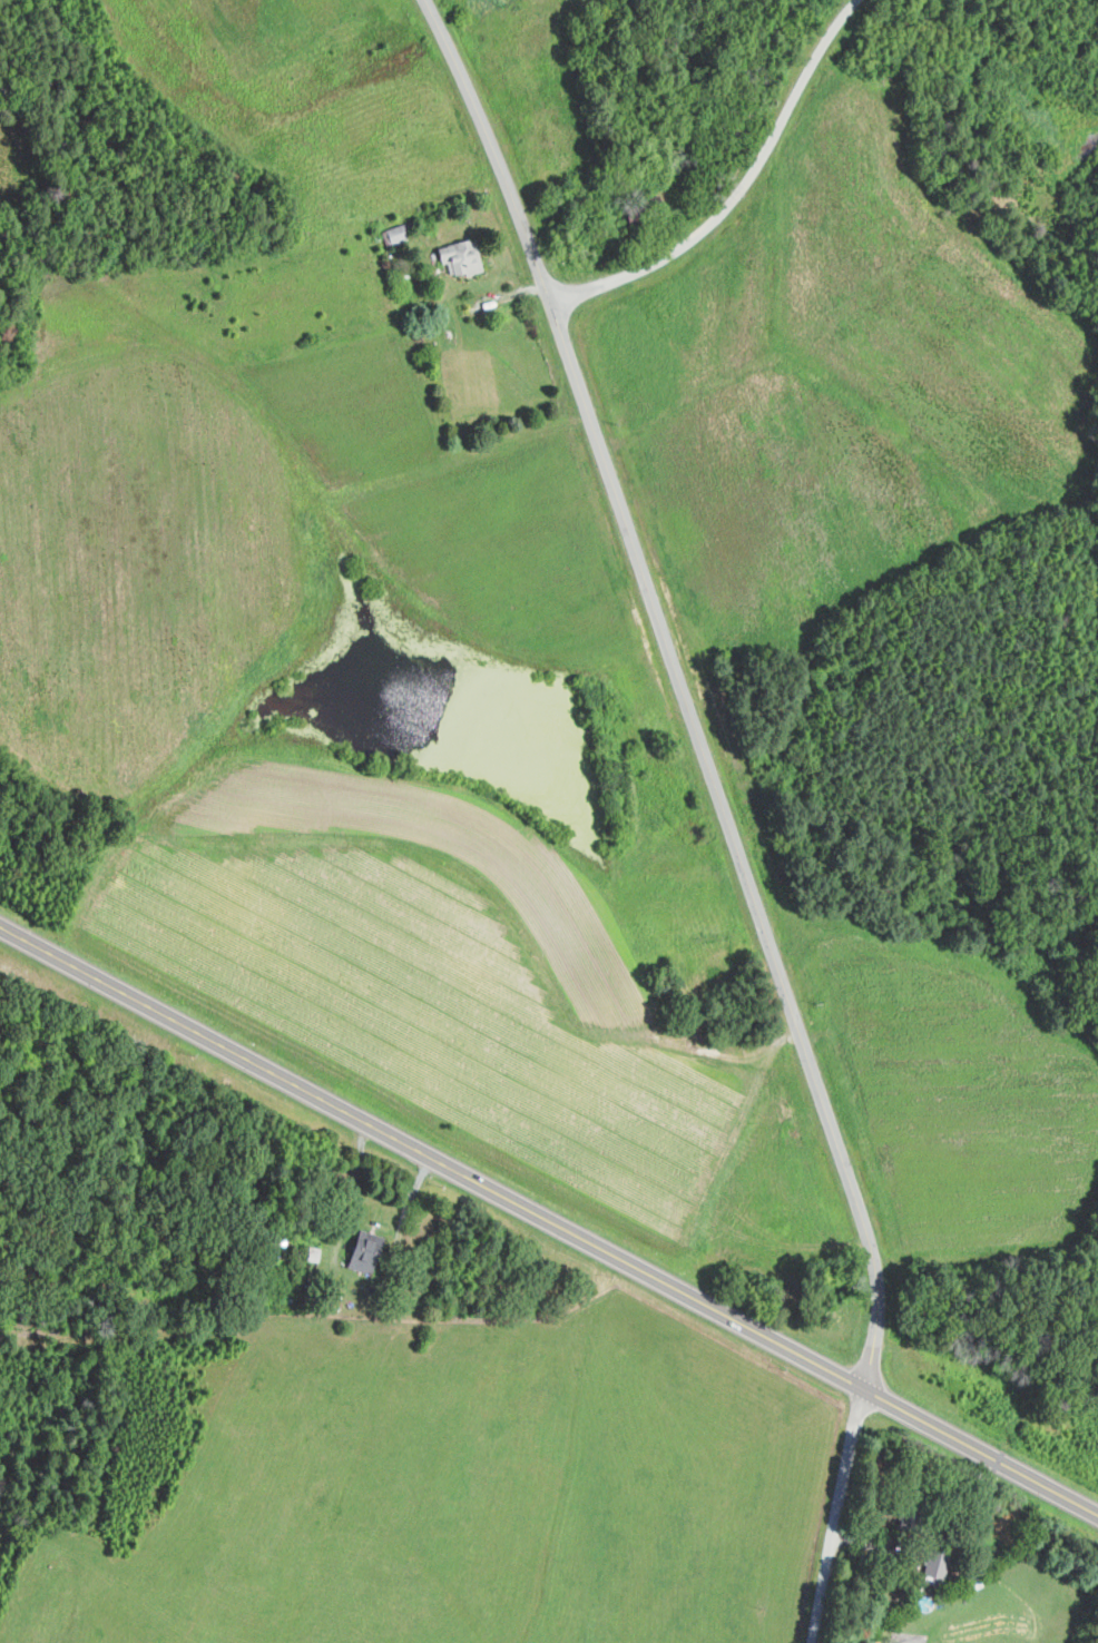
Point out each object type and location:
road: (739, 190)
building: (393, 234)
building: (454, 257)
road: (723, 810)
road: (549, 1219)
building: (361, 1250)
building: (933, 1564)

